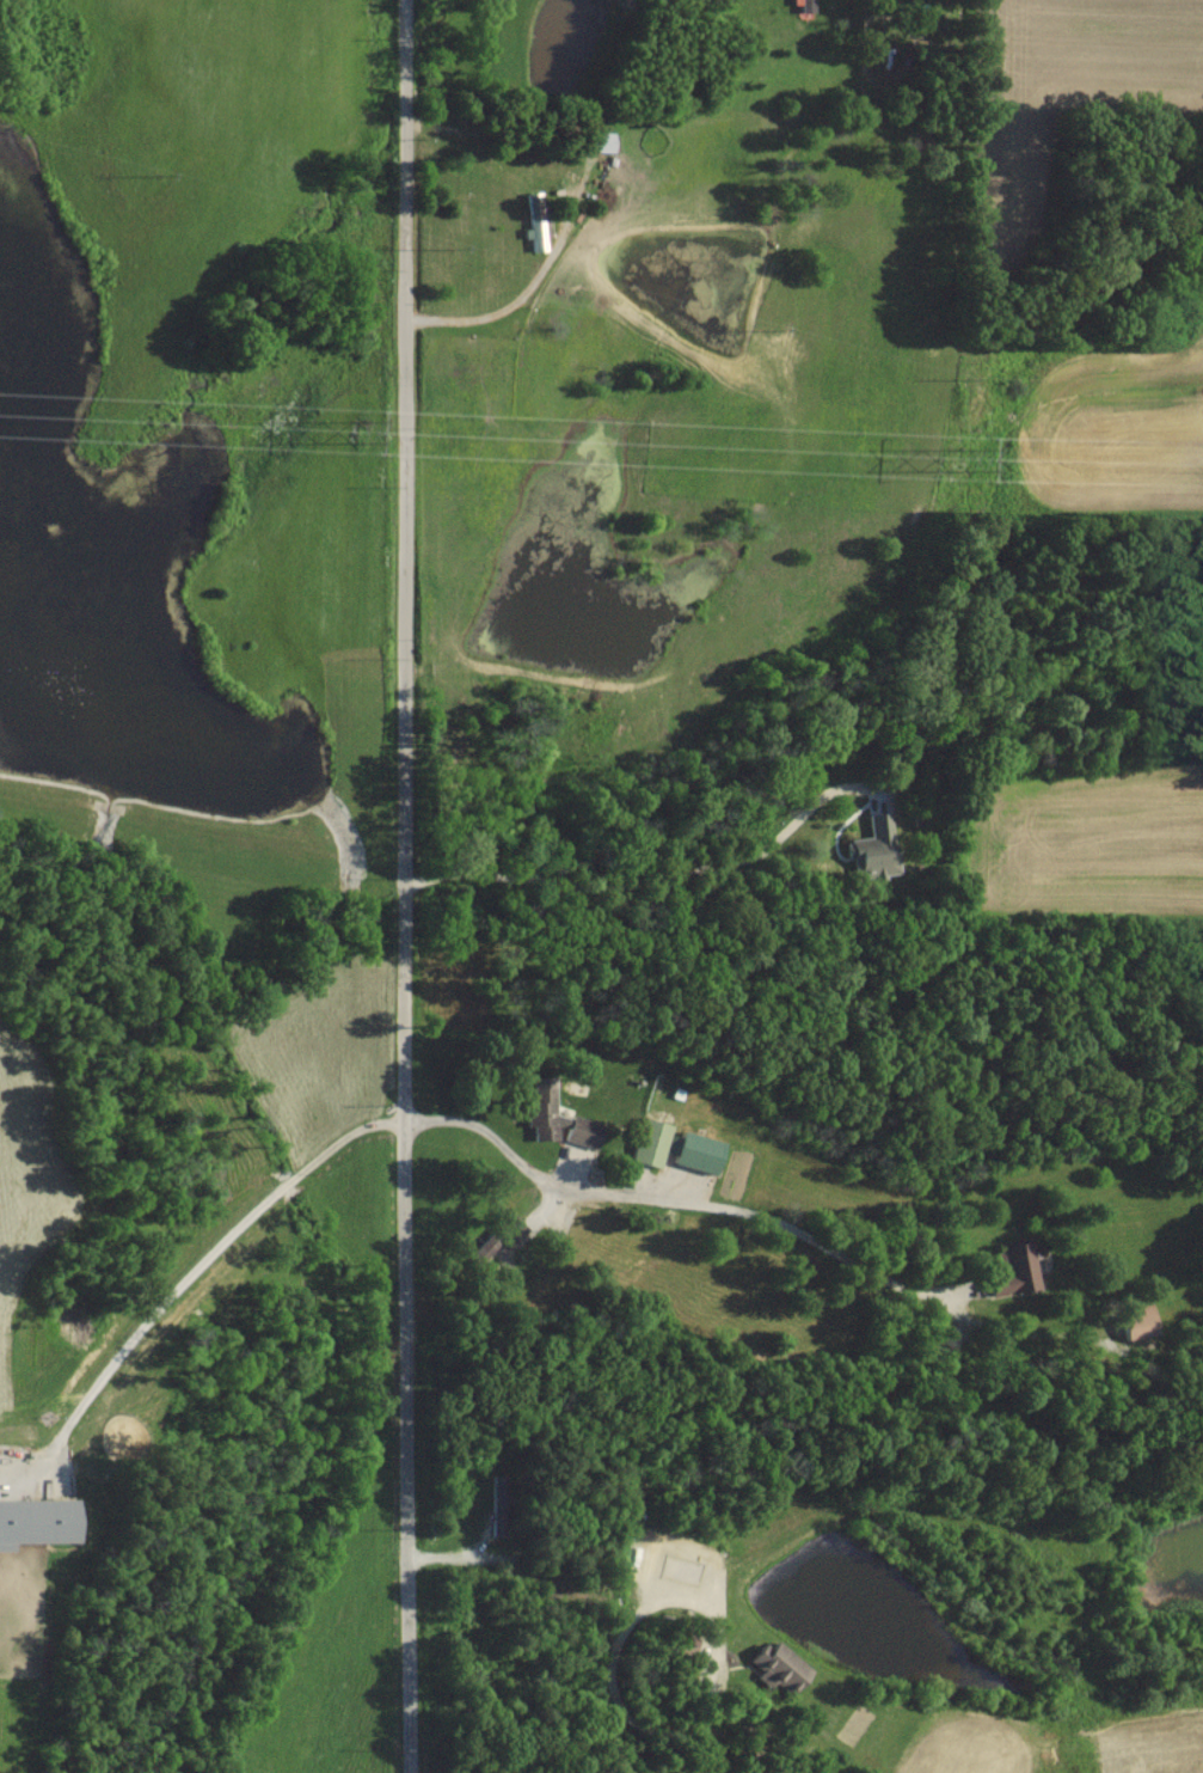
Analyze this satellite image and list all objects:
building: (594, 140)
road: (515, 302)
power tower: (361, 429)
power tower: (964, 459)
building: (871, 849)
road: (399, 886)
building: (539, 1108)
building: (578, 1130)
building: (645, 1142)
building: (692, 1151)
road: (671, 1200)
building: (493, 1236)
building: (1009, 1270)
road: (188, 1276)
building: (1135, 1322)
building: (33, 1521)
road: (645, 1609)
building: (774, 1664)
road: (710, 1755)

